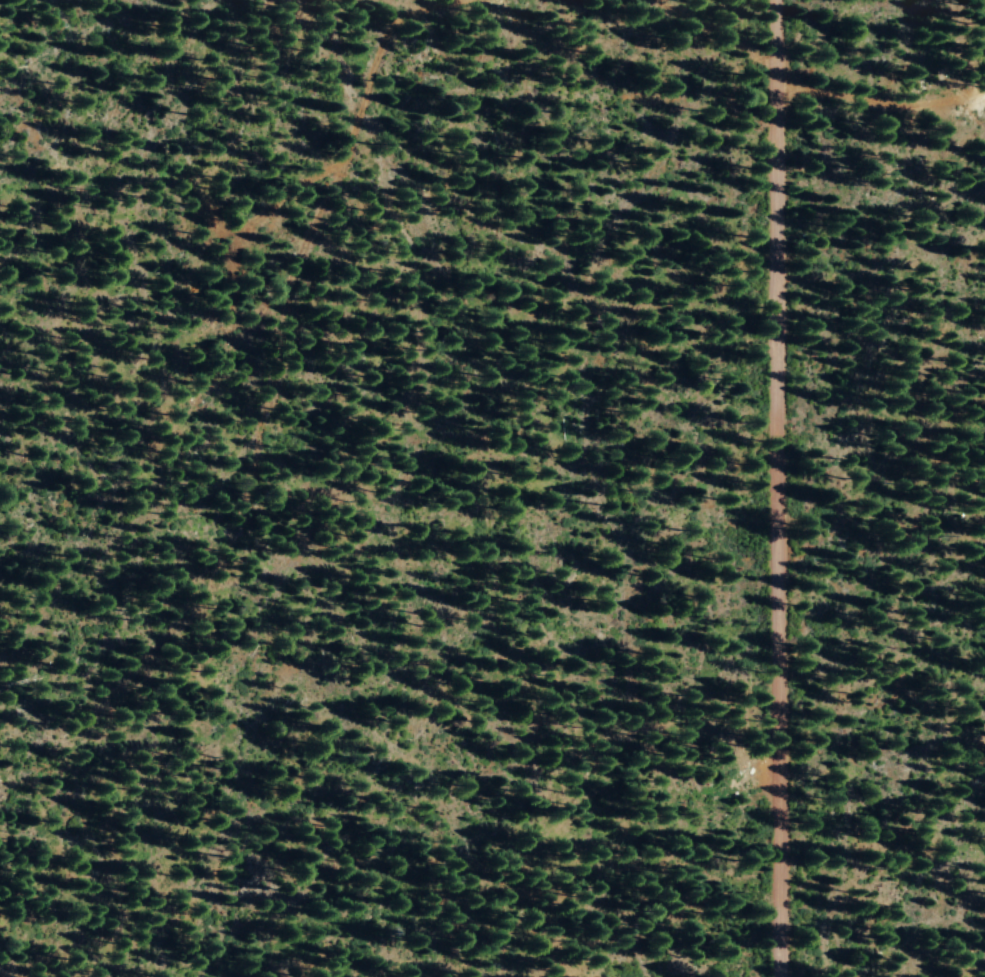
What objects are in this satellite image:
road: (774, 488)

